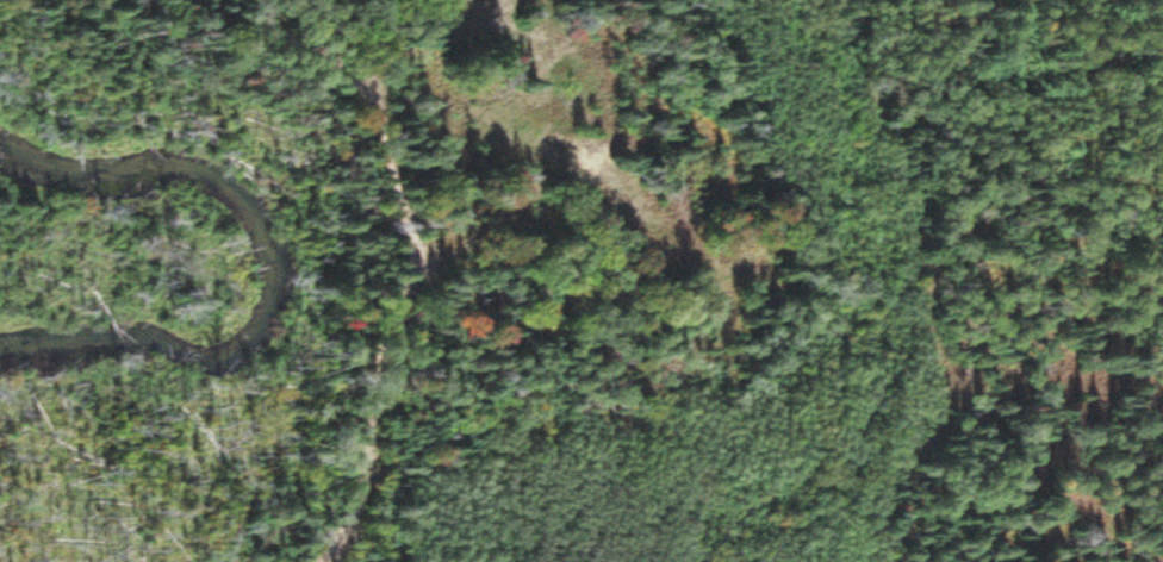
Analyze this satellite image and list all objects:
road: (270, 8)
river: (278, 255)
road: (413, 270)
park: (581, 281)

